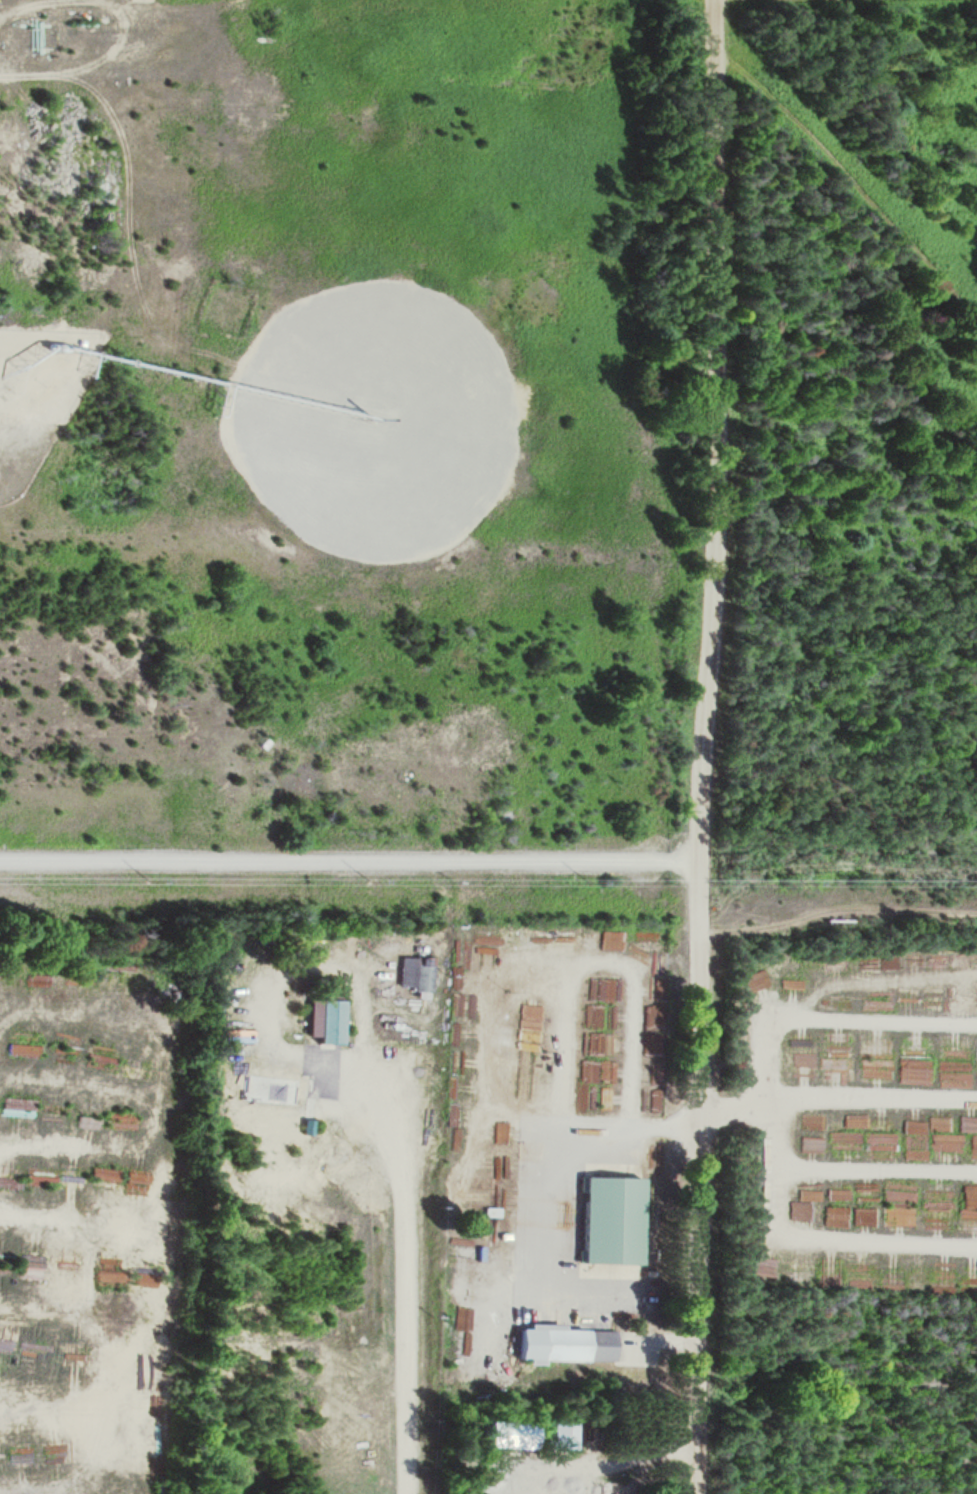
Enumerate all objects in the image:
road: (711, 430)
road: (348, 862)
building: (416, 974)
building: (324, 1022)
building: (529, 1025)
building: (600, 1046)
building: (268, 1091)
building: (816, 1121)
road: (698, 1177)
building: (610, 1222)
building: (111, 1278)
road: (416, 1310)
building: (562, 1345)
building: (561, 1433)
building: (510, 1436)
building: (59, 1447)
building: (20, 1457)
building: (490, 1480)
building: (614, 1488)

